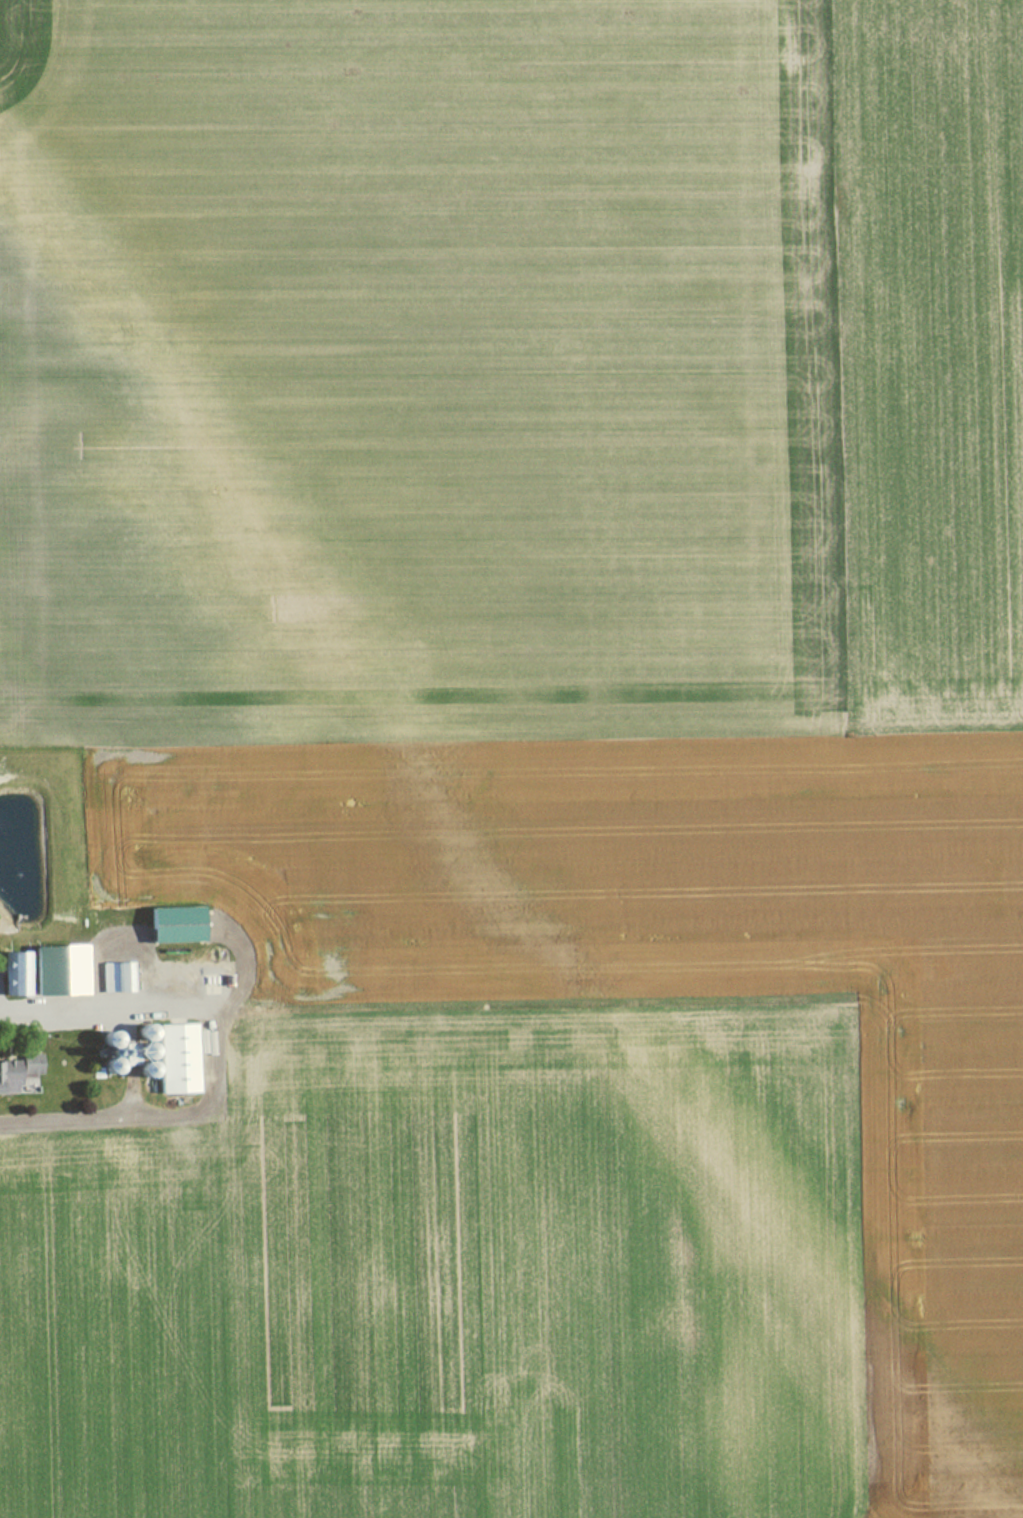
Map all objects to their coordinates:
crop: (560, 546)
building: (171, 923)
building: (174, 1058)
road: (210, 1058)
building: (28, 1063)
building: (7, 1077)
crop: (451, 1274)

